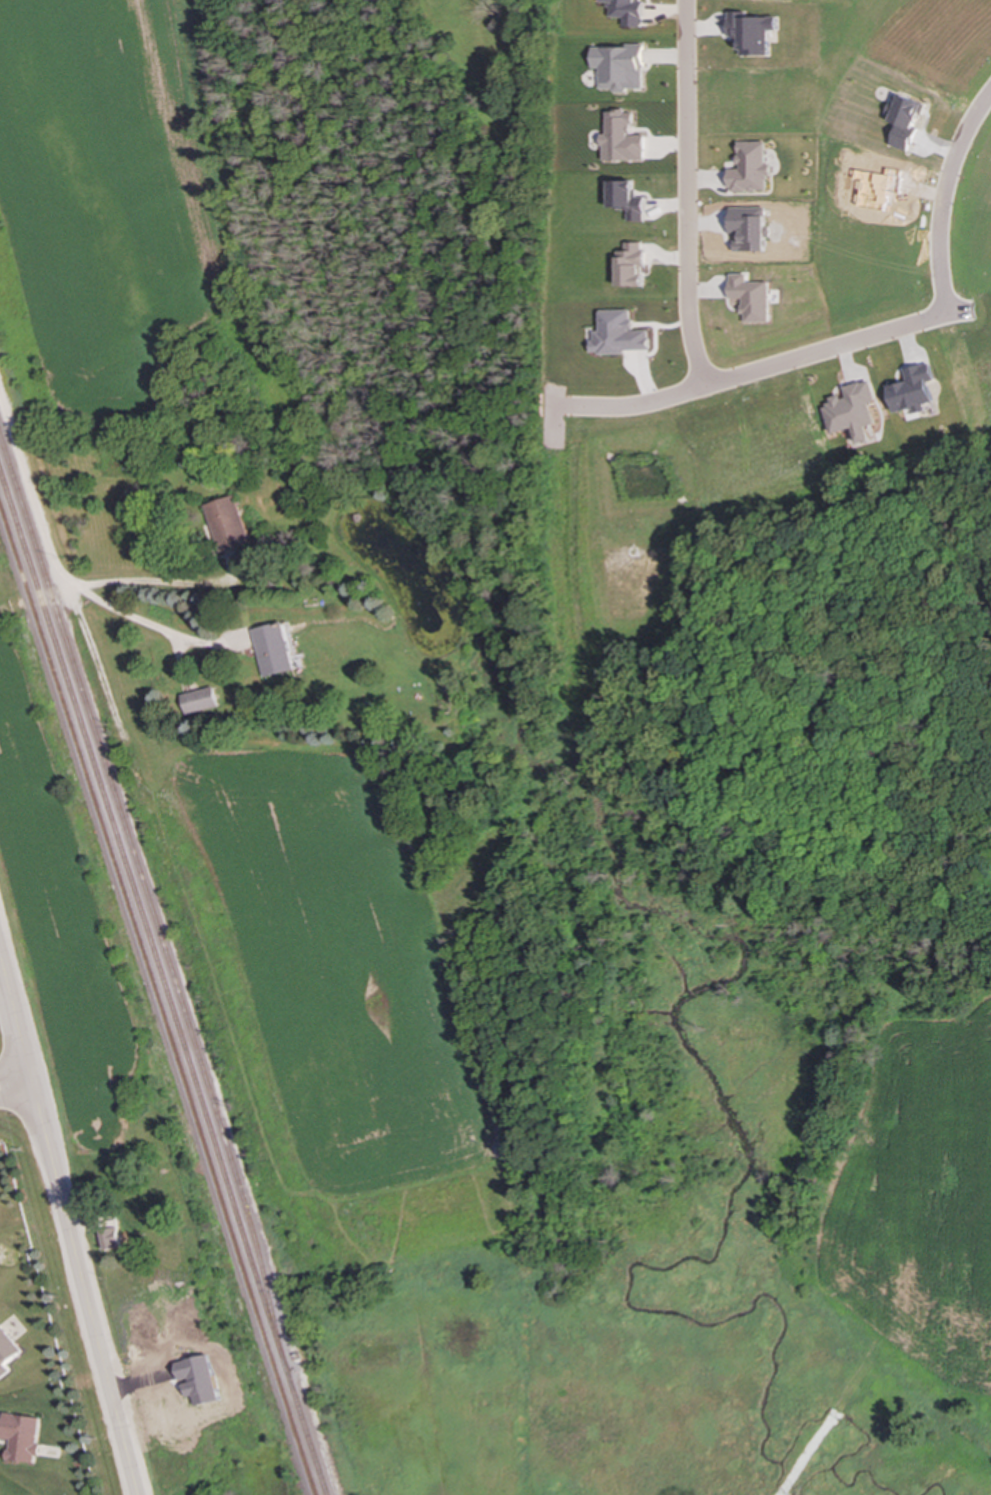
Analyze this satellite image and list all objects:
building: (625, 11)
building: (749, 32)
building: (618, 67)
building: (905, 121)
building: (620, 138)
building: (749, 169)
road: (935, 190)
road: (686, 193)
crop: (104, 197)
building: (626, 199)
building: (630, 265)
building: (750, 297)
building: (618, 334)
road: (757, 369)
building: (914, 389)
building: (853, 411)
road: (31, 497)
building: (227, 524)
road: (150, 582)
road: (4, 608)
road: (160, 628)
building: (274, 649)
road: (177, 658)
road: (98, 668)
building: (199, 700)
railway: (149, 903)
crop: (343, 968)
railway: (163, 984)
railway: (158, 1000)
road: (14, 1068)
road: (17, 1097)
crop: (917, 1199)
road: (68, 1223)
building: (113, 1240)
building: (7, 1351)
road: (858, 1374)
building: (21, 1437)
road: (809, 1453)

